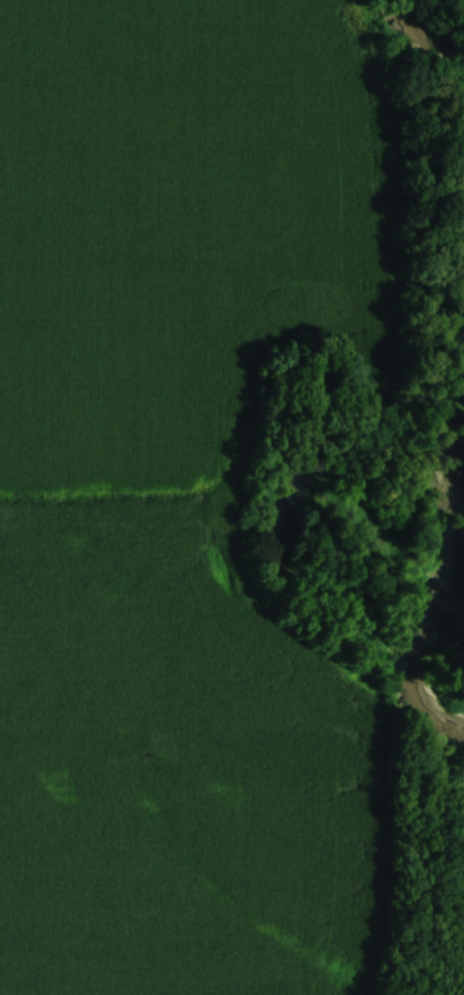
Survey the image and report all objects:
river: (440, 39)
river: (420, 544)

